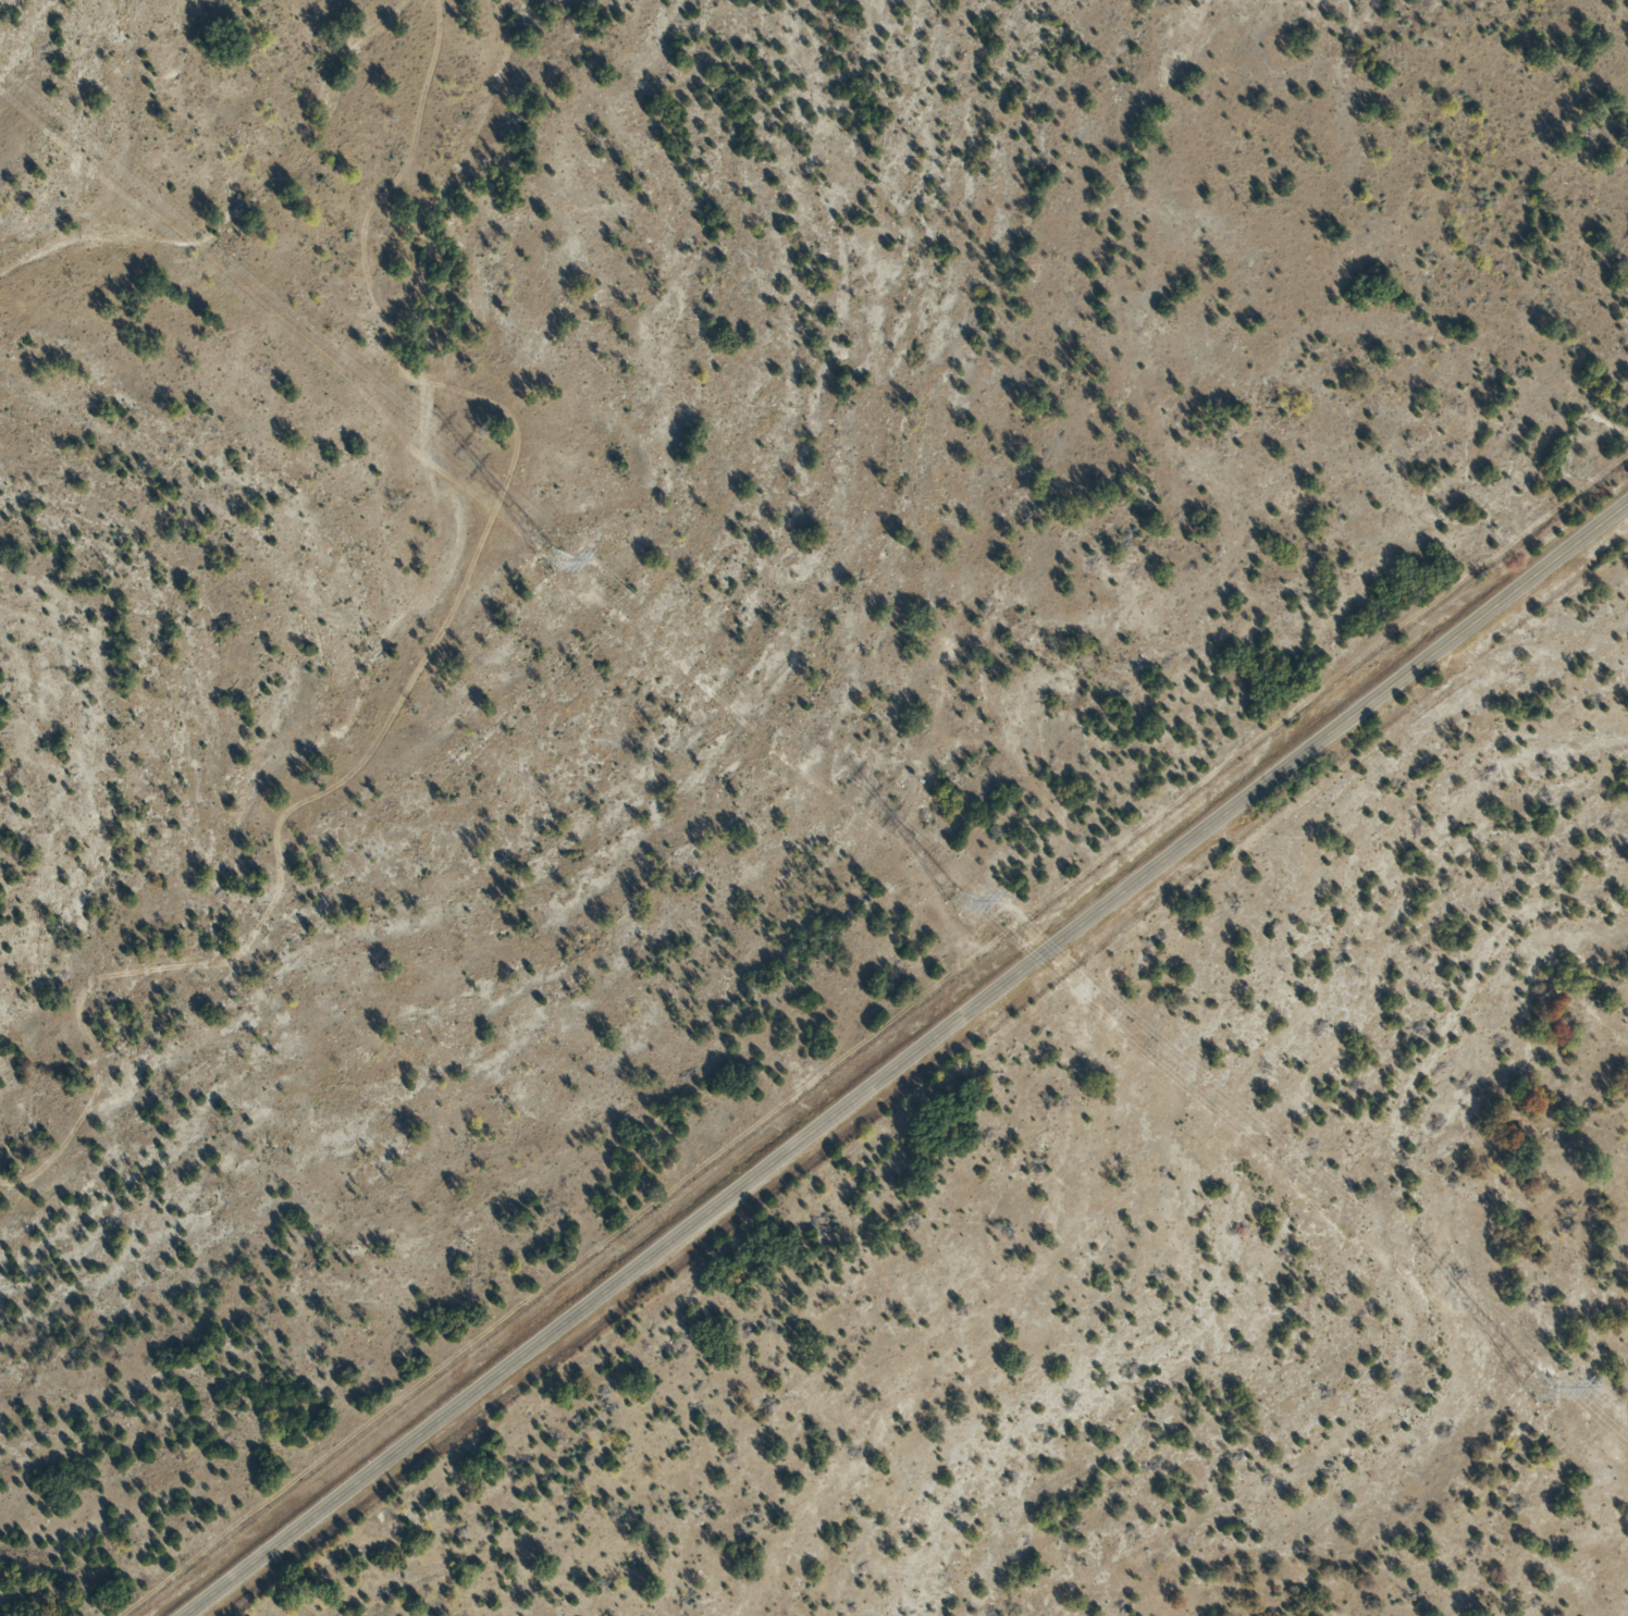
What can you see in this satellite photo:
power tower: (553, 559)
power tower: (957, 899)
road: (909, 1061)
power tower: (1533, 1389)

